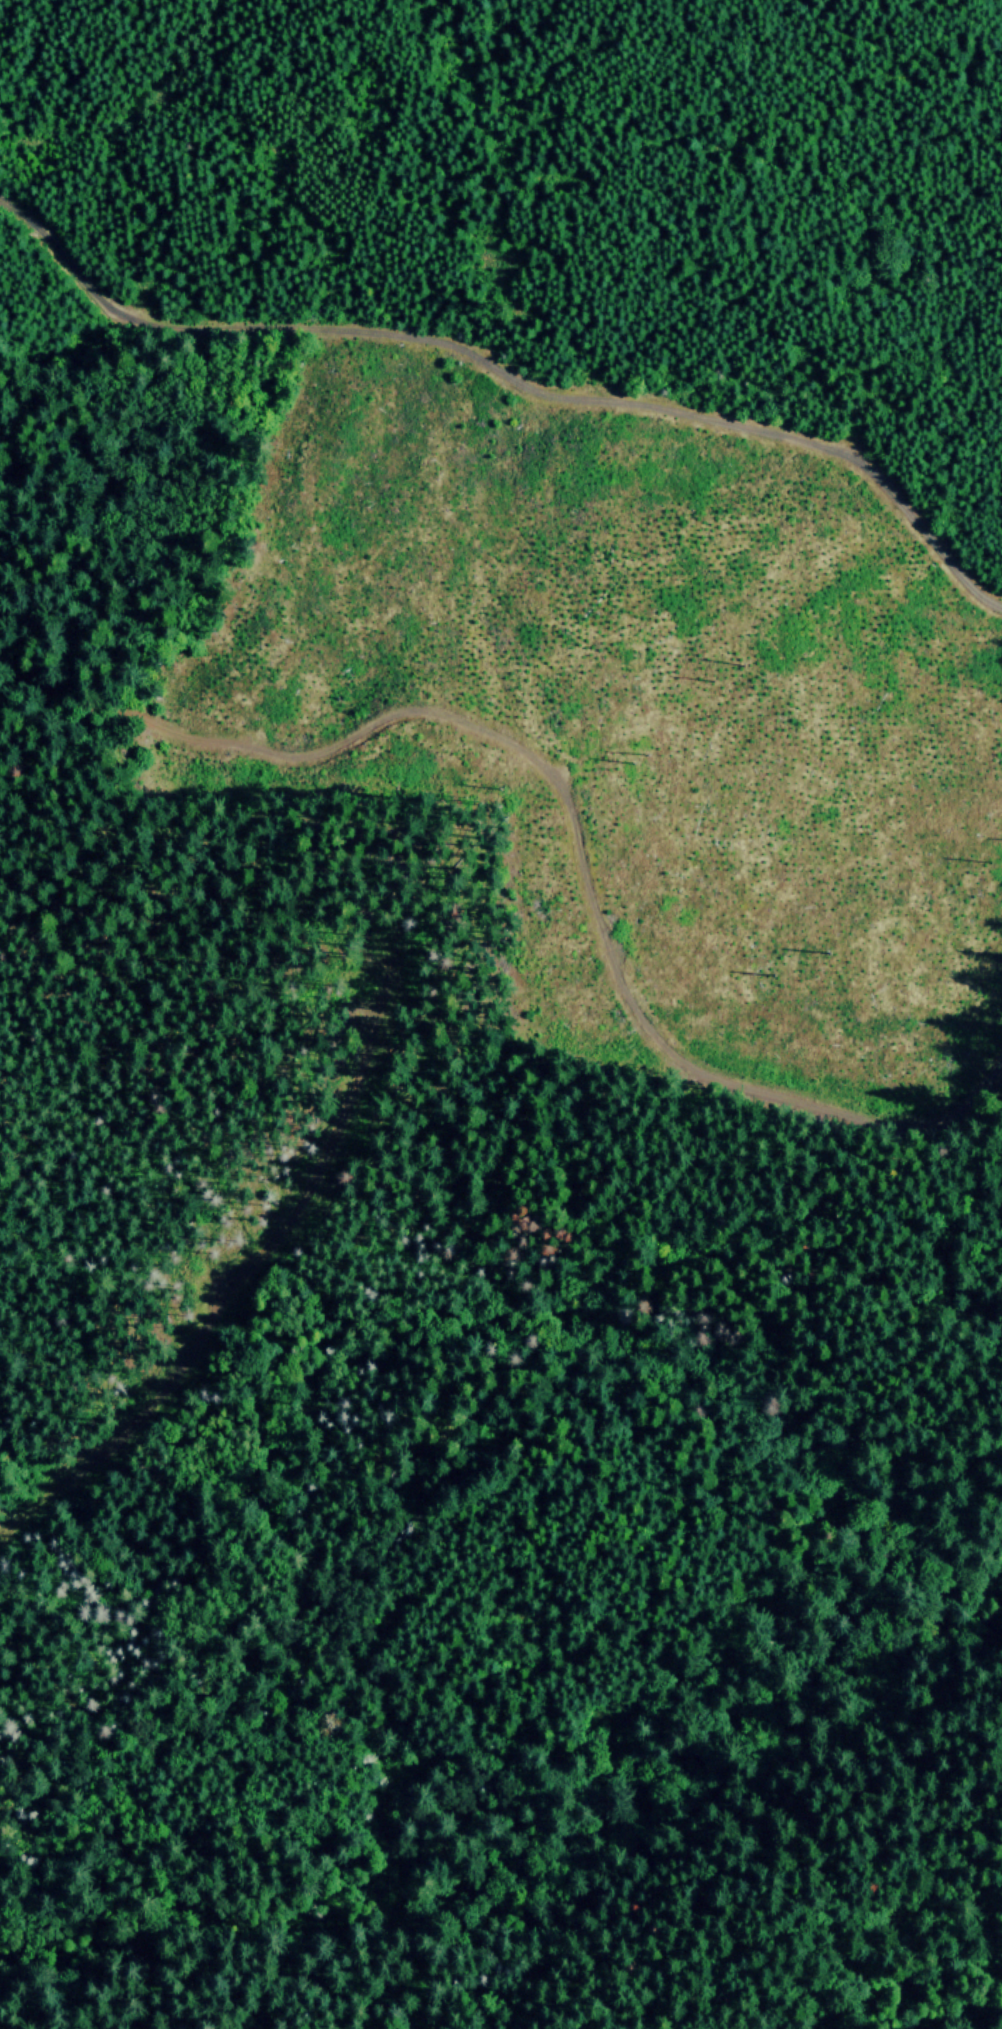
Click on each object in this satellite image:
road: (505, 355)
road: (562, 806)
road: (739, 1305)
road: (266, 1549)
road: (899, 1976)

